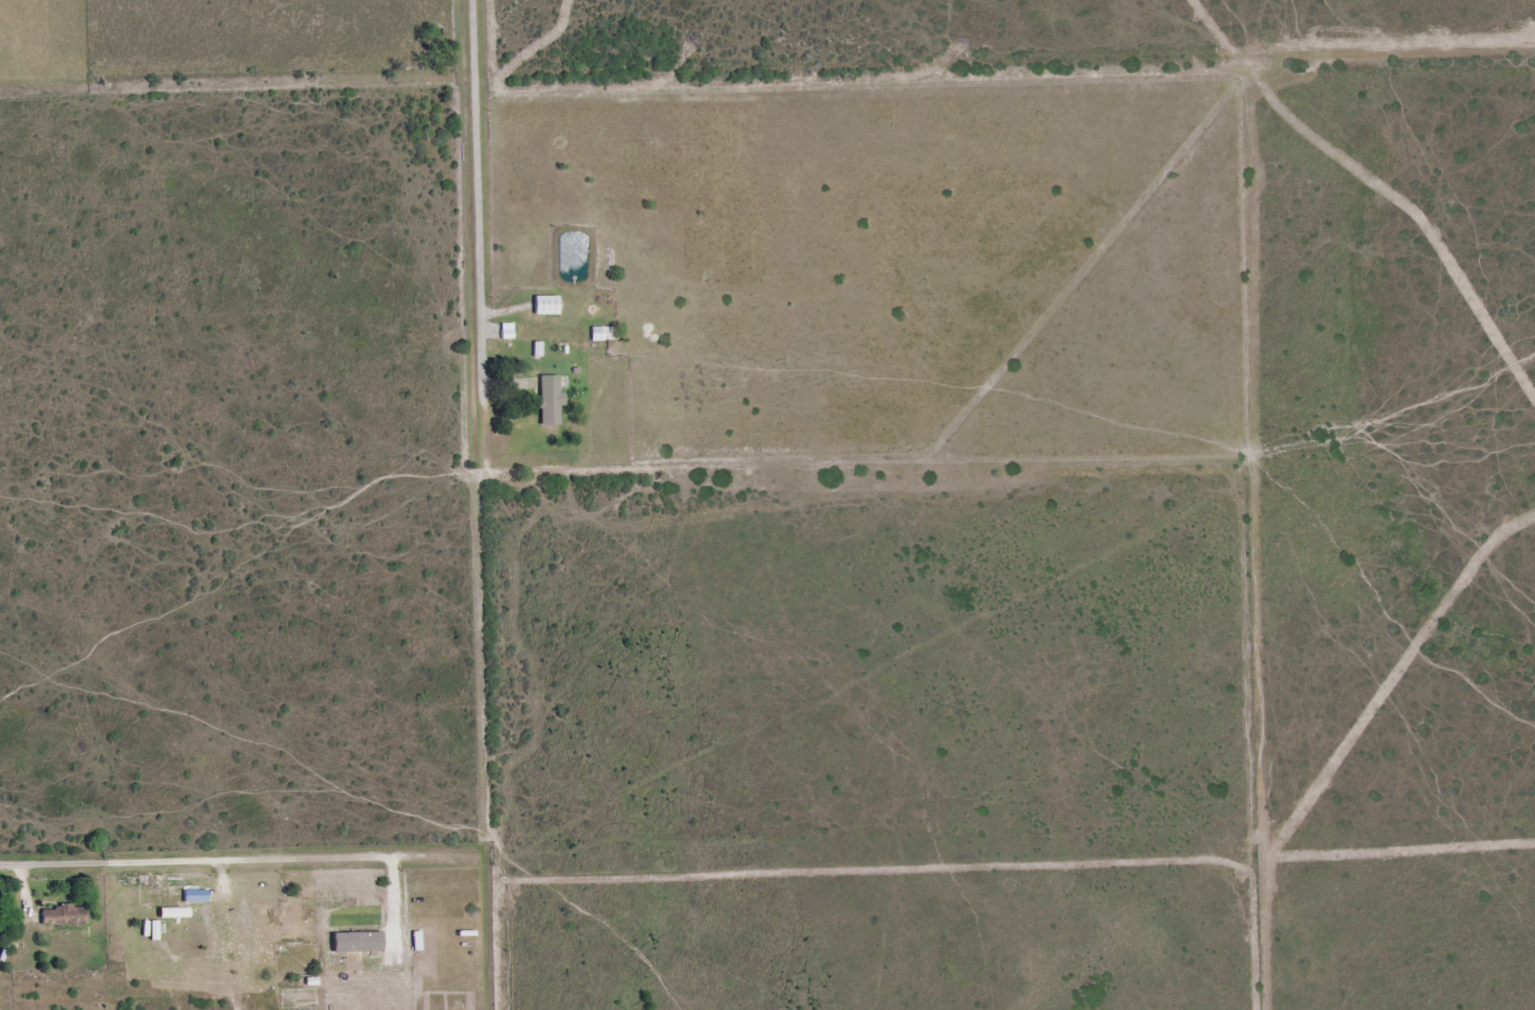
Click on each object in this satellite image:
road: (481, 228)
building: (546, 305)
building: (506, 331)
road: (48, 858)
building: (195, 896)
building: (174, 913)
building: (63, 916)
building: (154, 931)
building: (357, 943)

